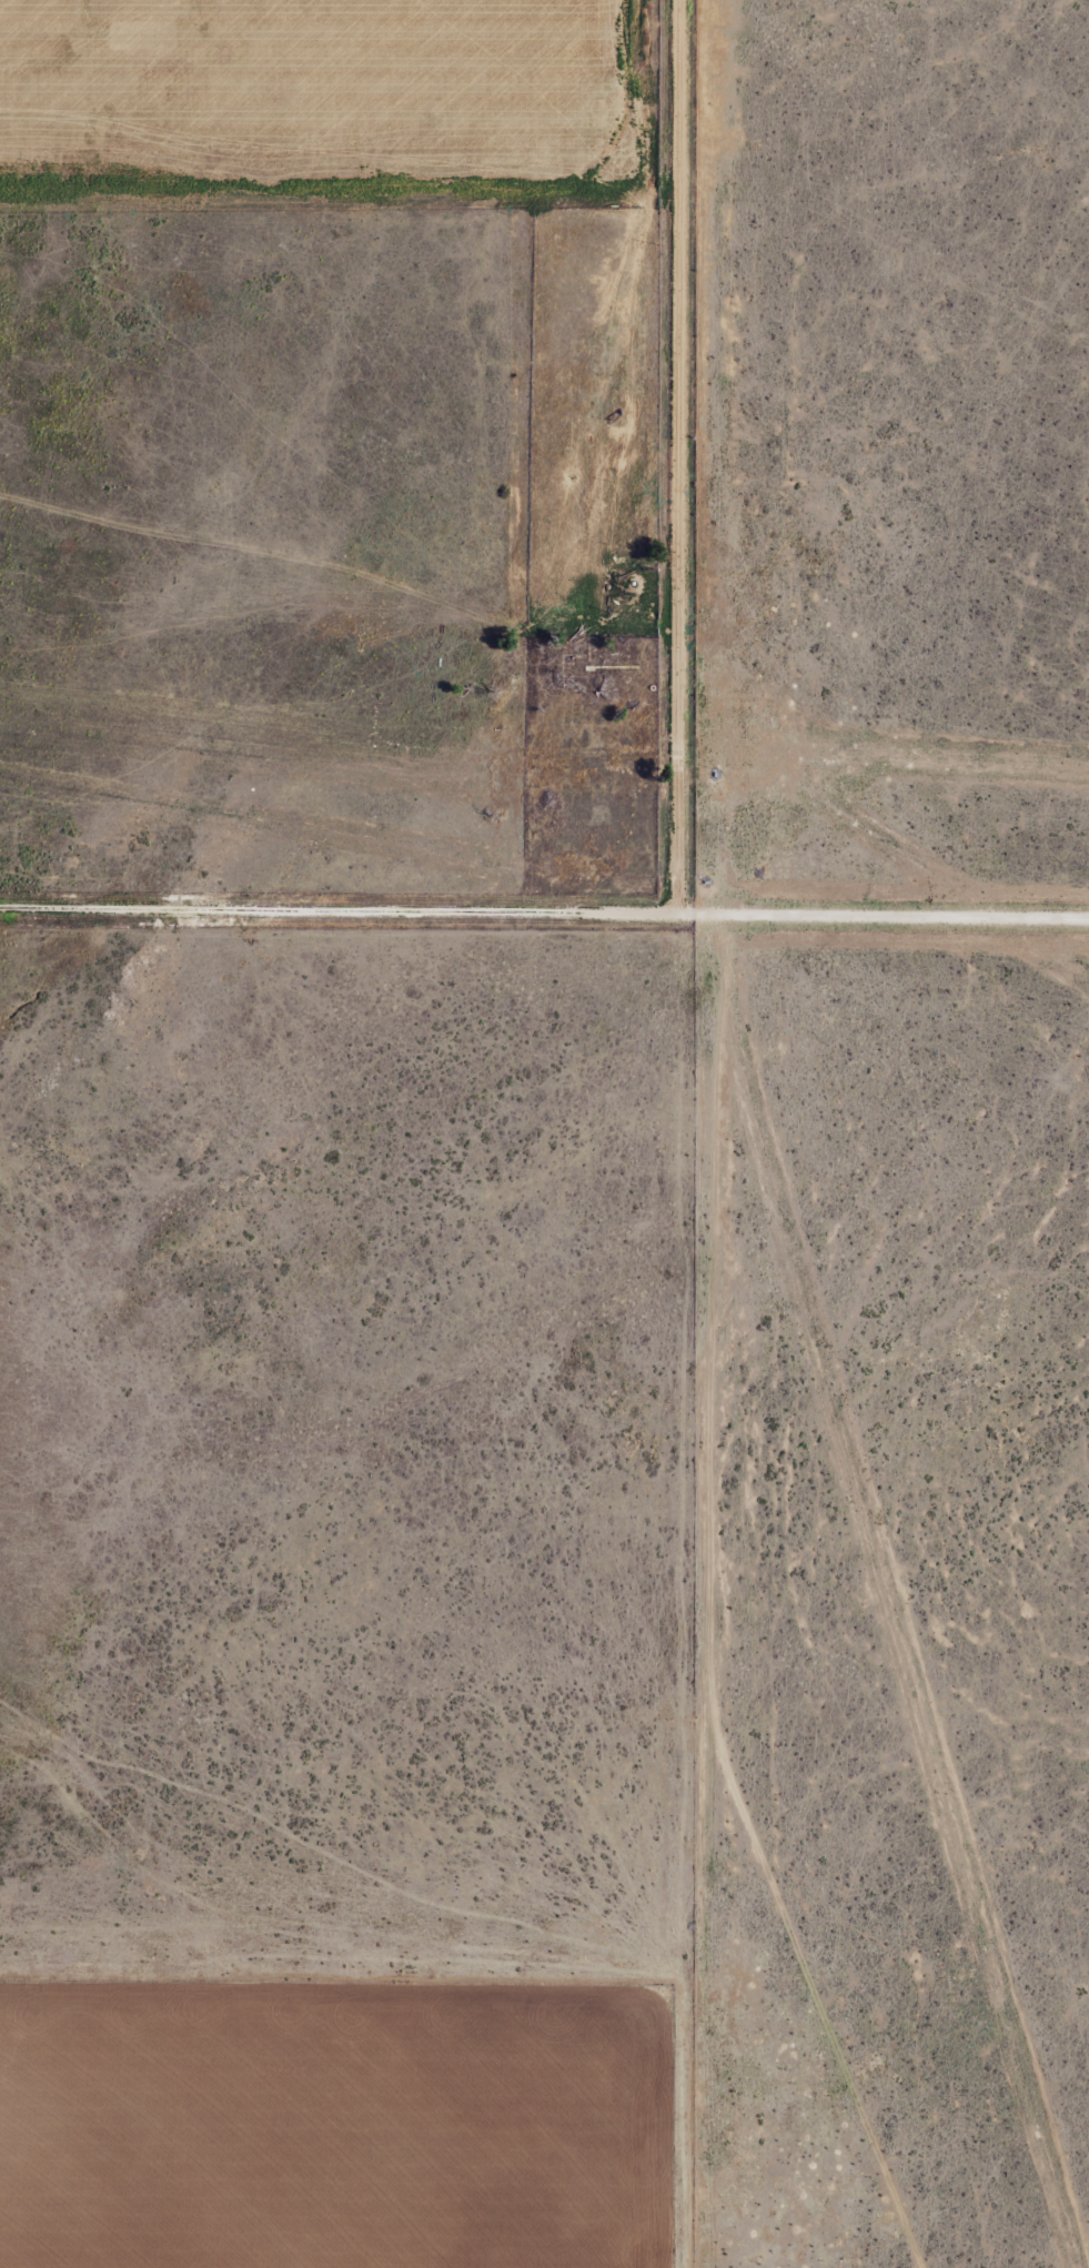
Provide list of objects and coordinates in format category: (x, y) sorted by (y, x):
road: (669, 454)
road: (333, 906)
road: (678, 1587)

